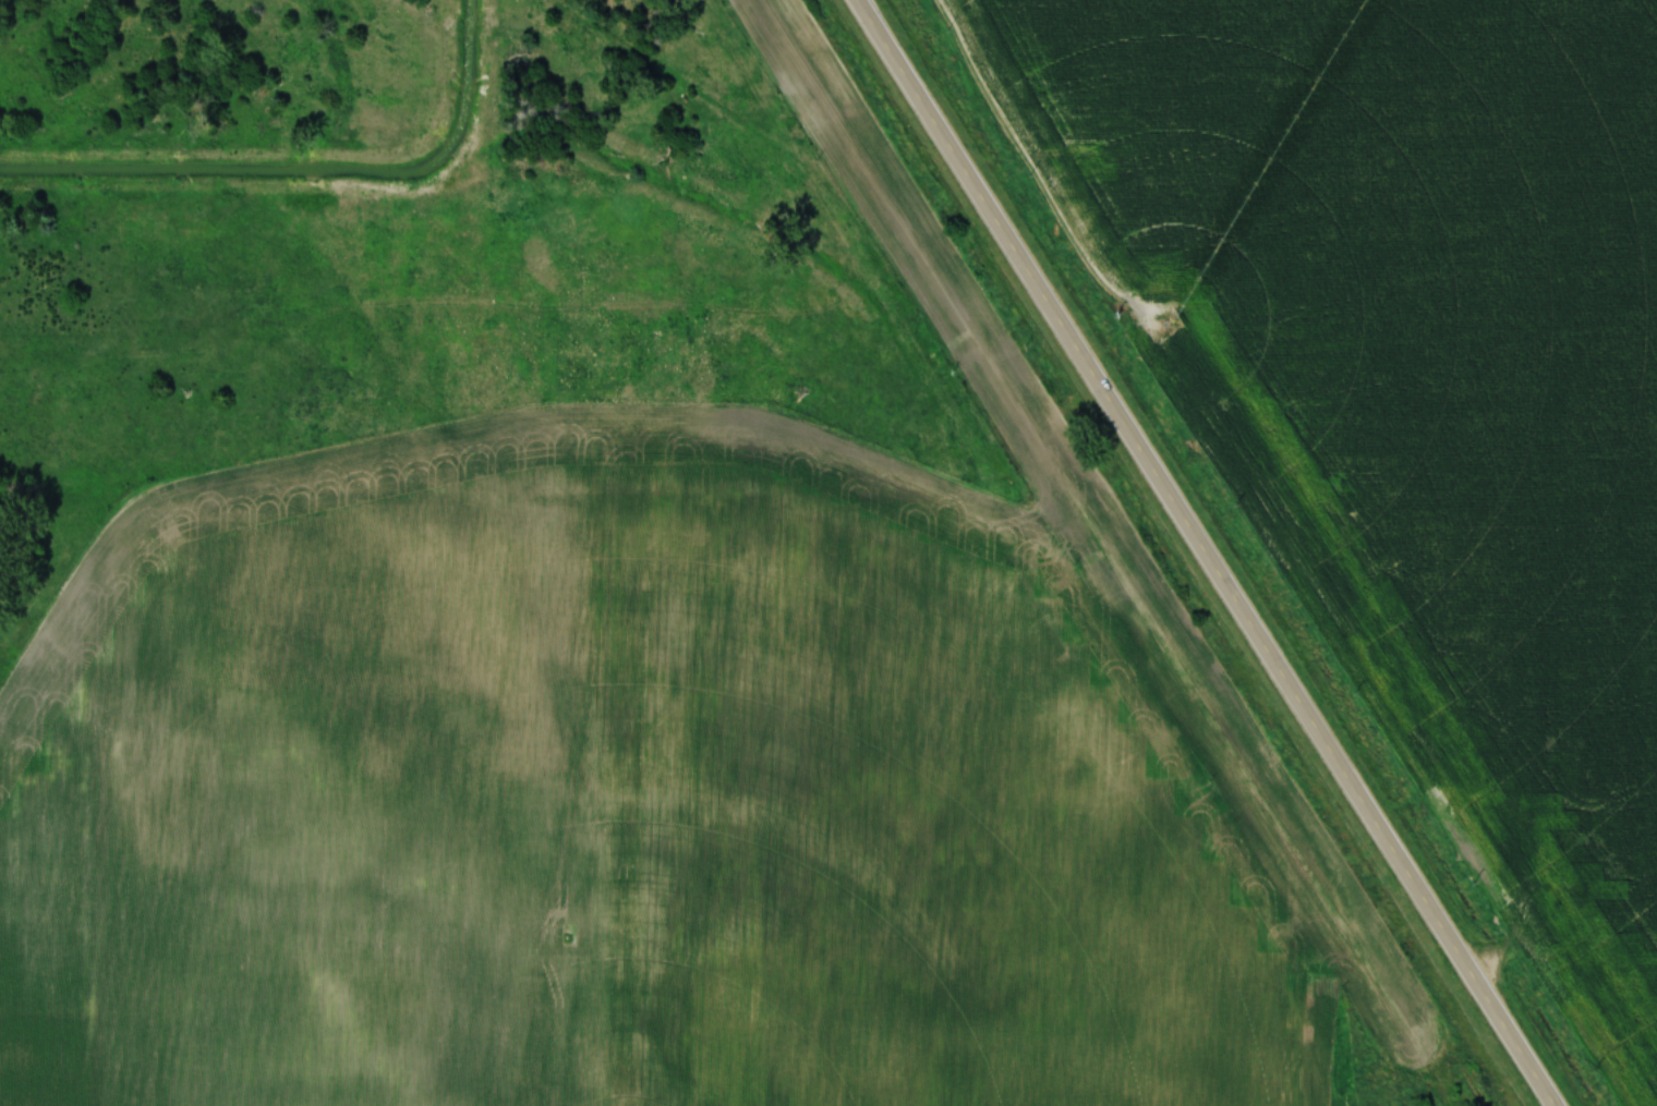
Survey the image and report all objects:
road: (1202, 554)

